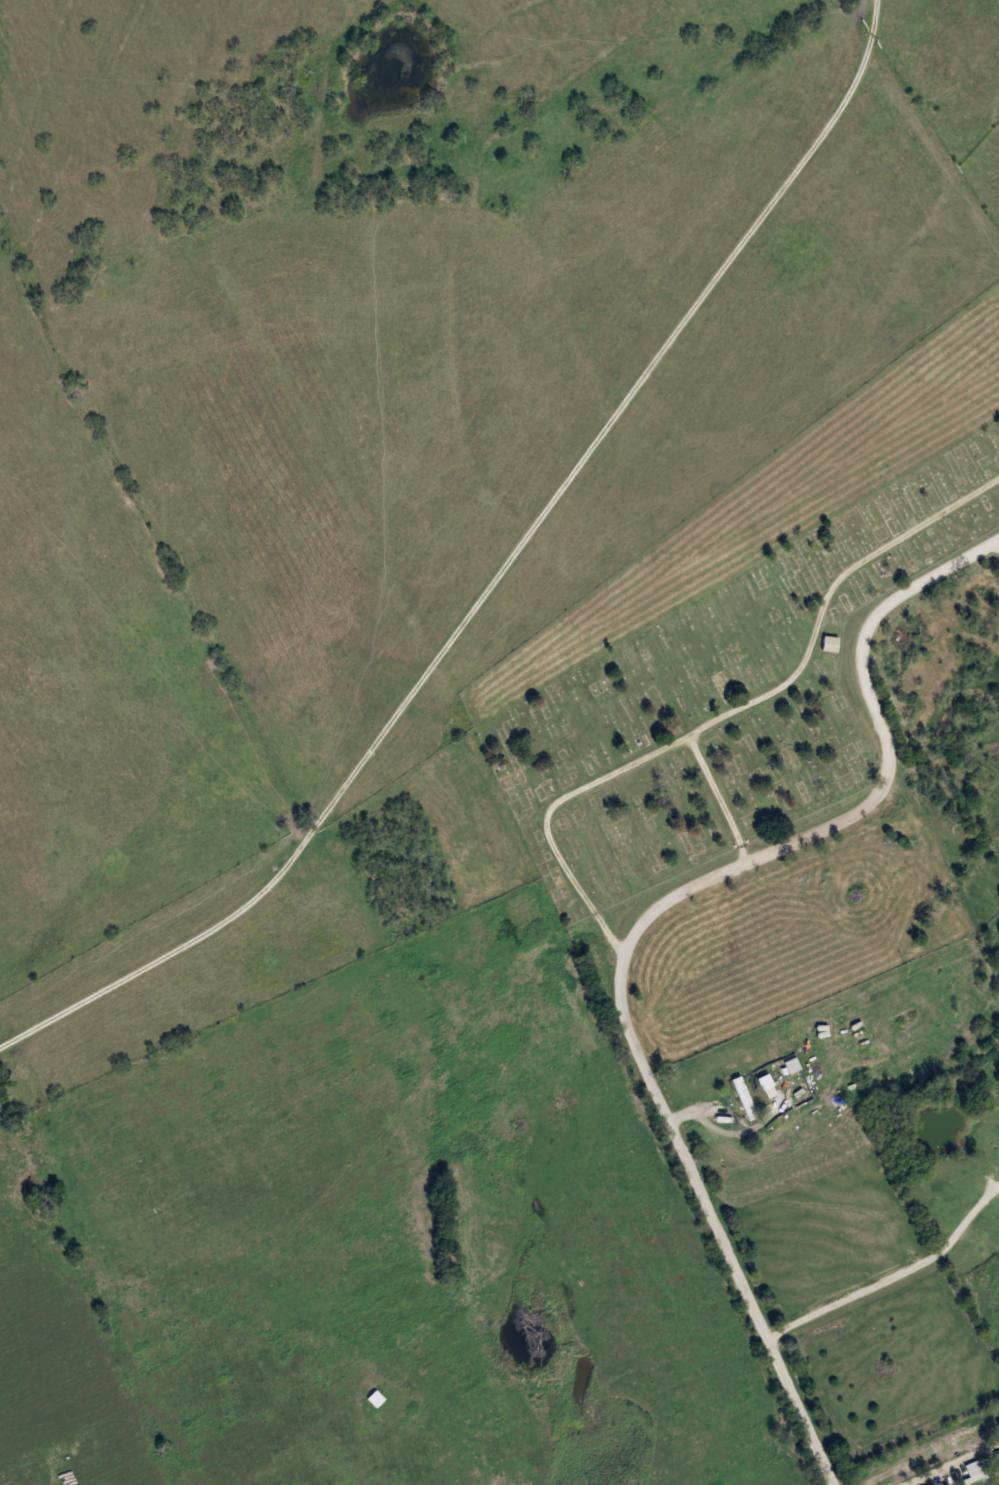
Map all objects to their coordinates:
building: (783, 240)
road: (497, 578)
building: (828, 643)
park: (722, 697)
road: (731, 713)
road: (721, 798)
road: (637, 925)
building: (740, 1100)
building: (744, 1136)
road: (894, 1279)
building: (374, 1398)
road: (955, 1466)
building: (971, 1468)

